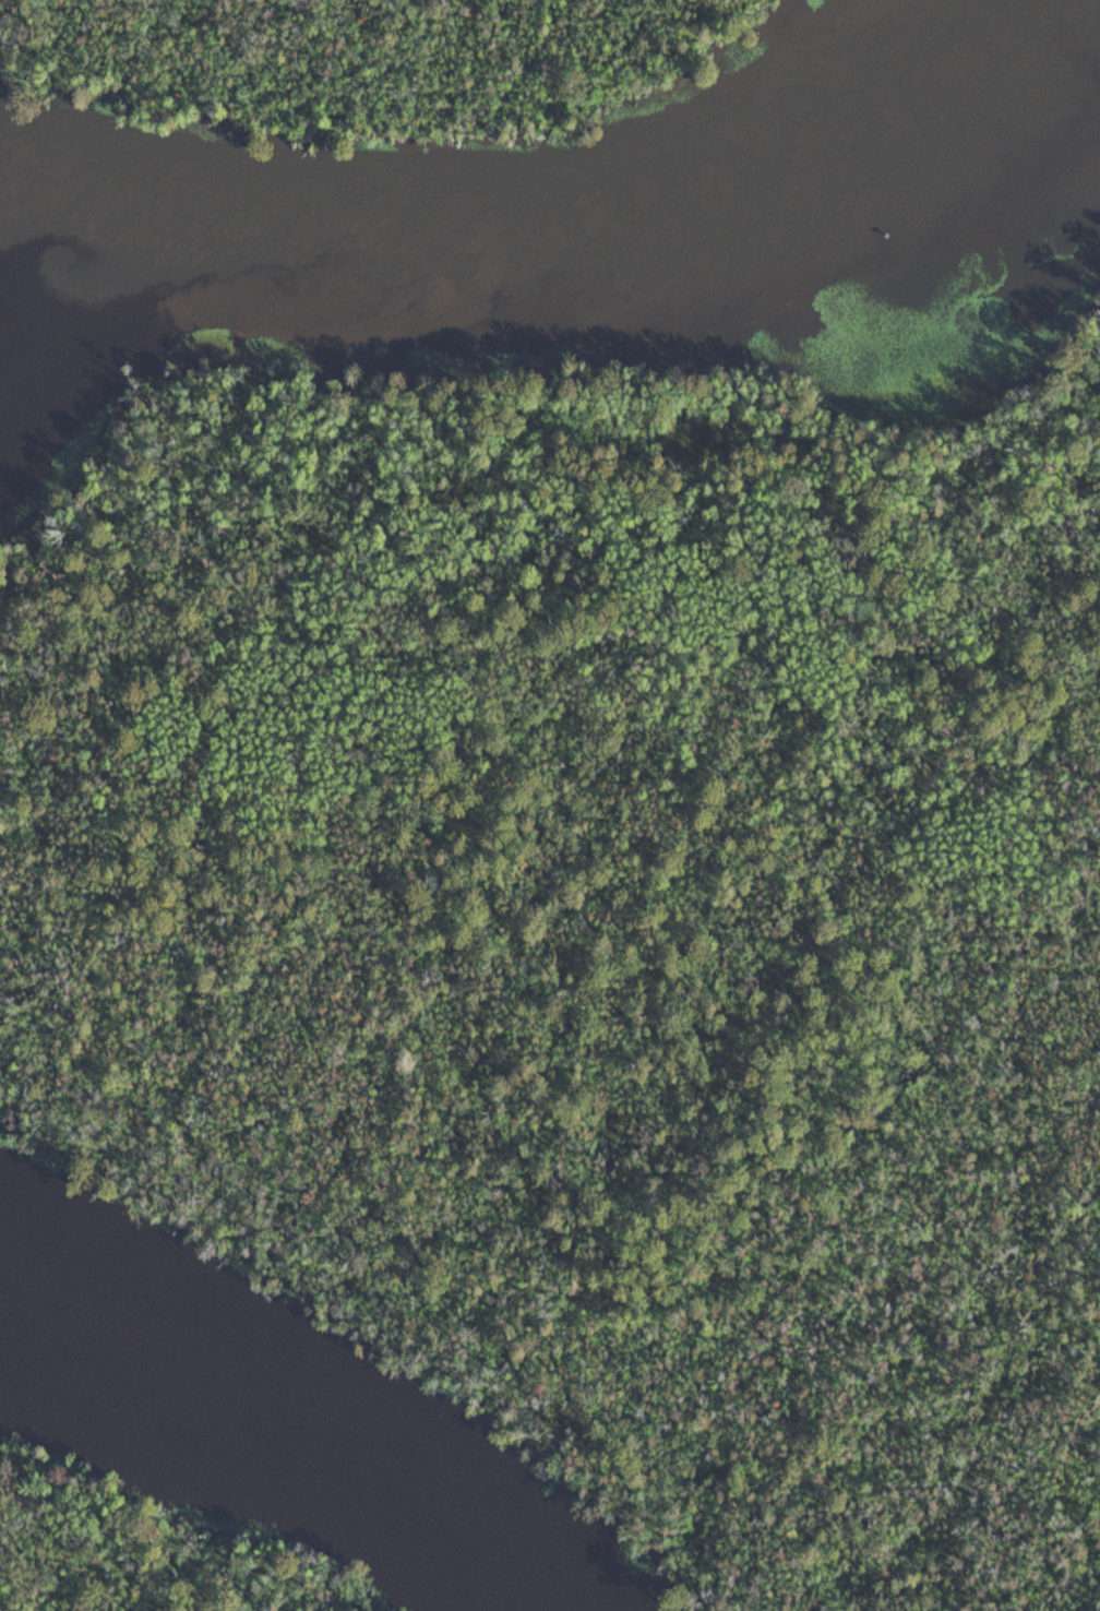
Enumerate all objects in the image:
river: (554, 248)

